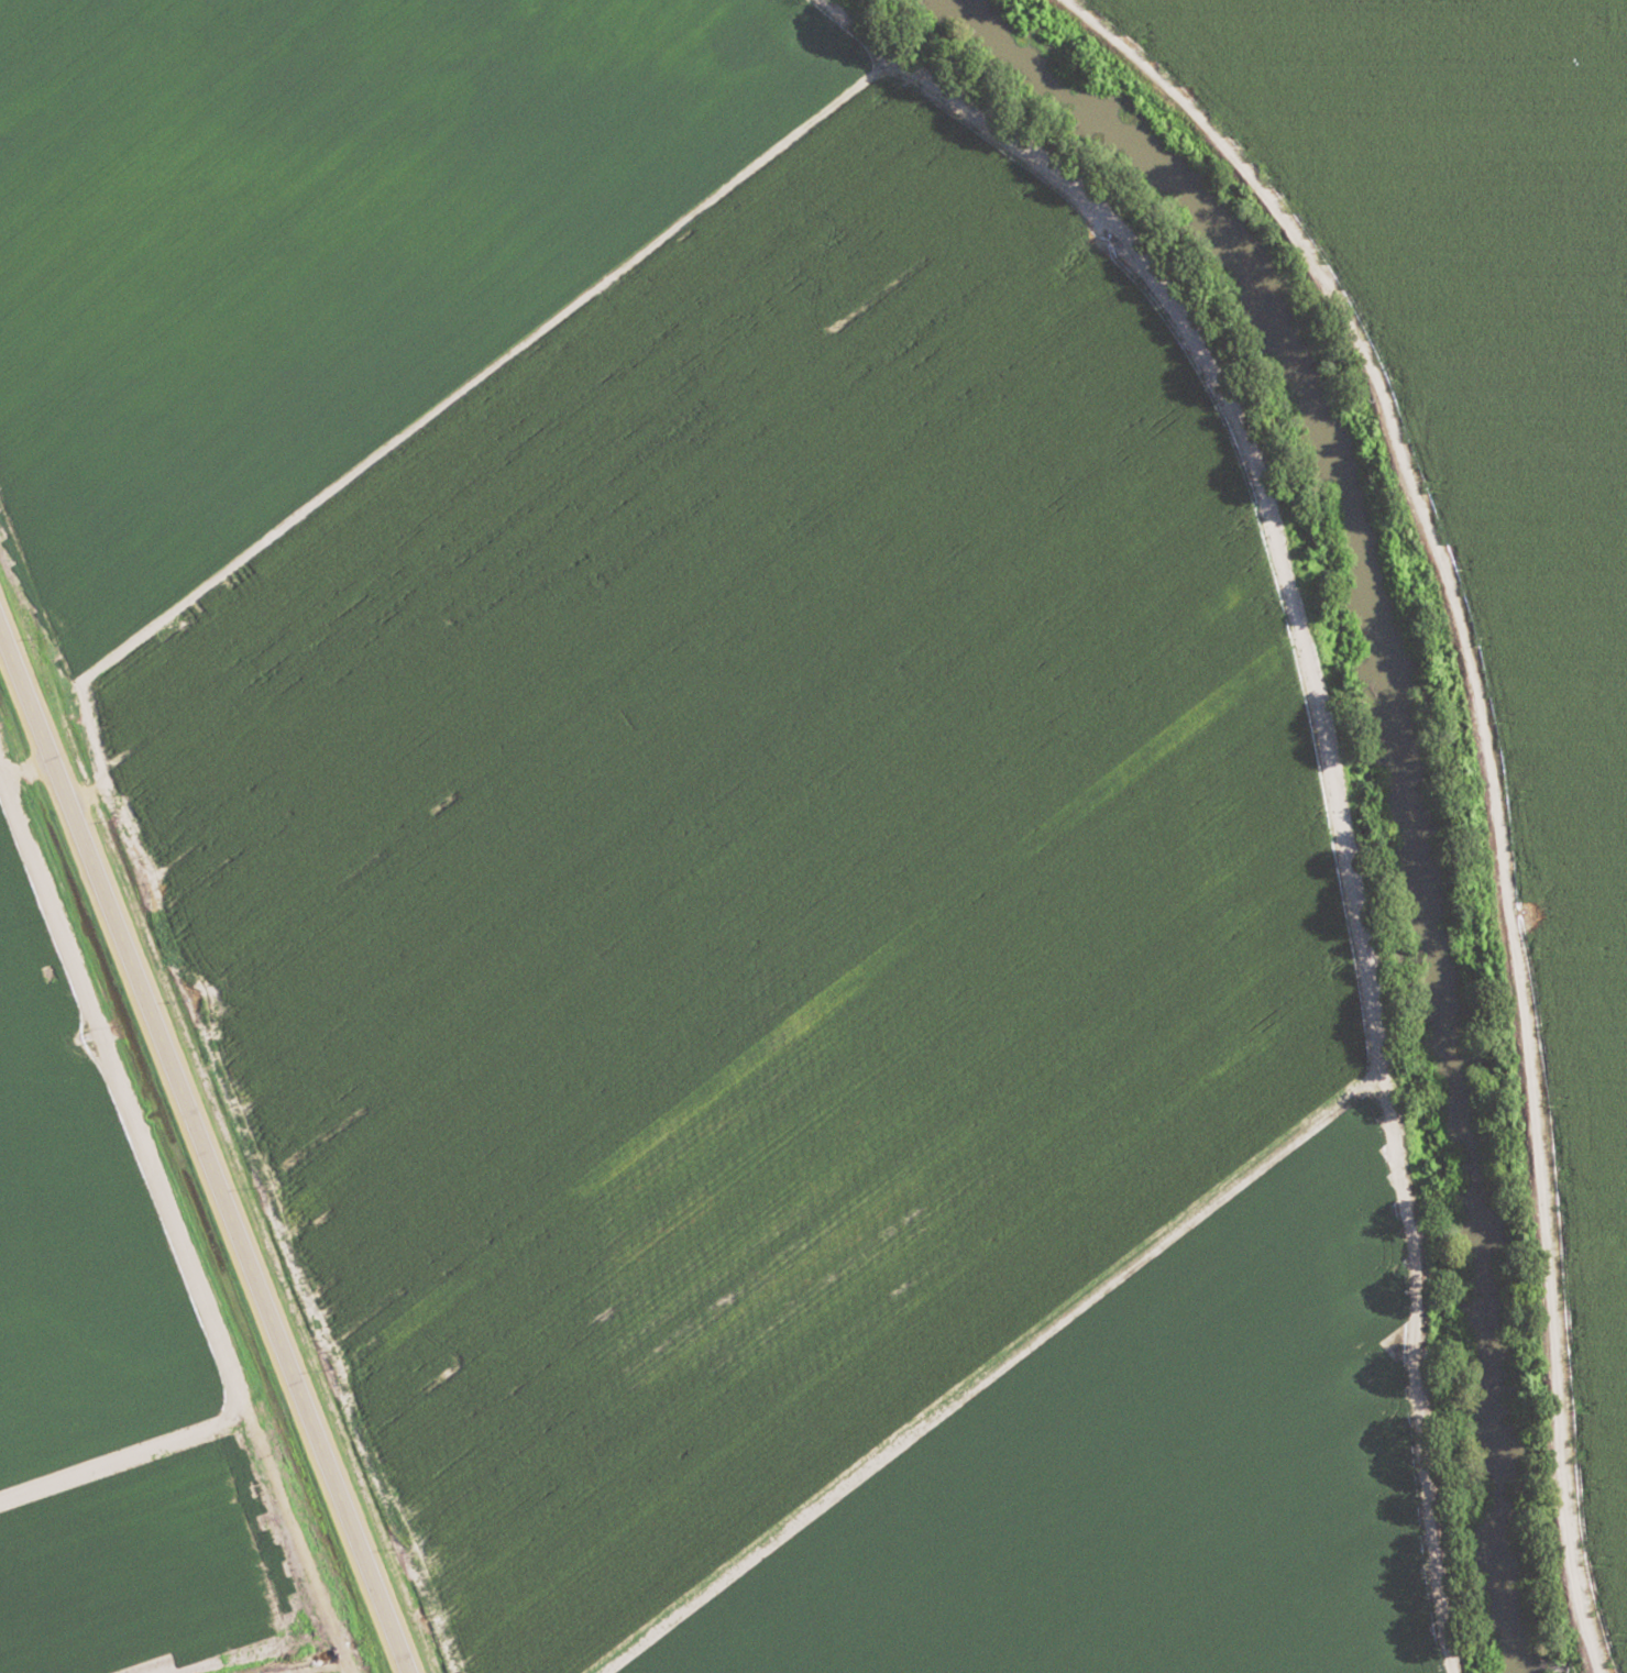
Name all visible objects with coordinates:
road: (8, 690)
road: (1335, 741)
river: (1406, 753)
road: (1486, 773)
road: (202, 1157)

